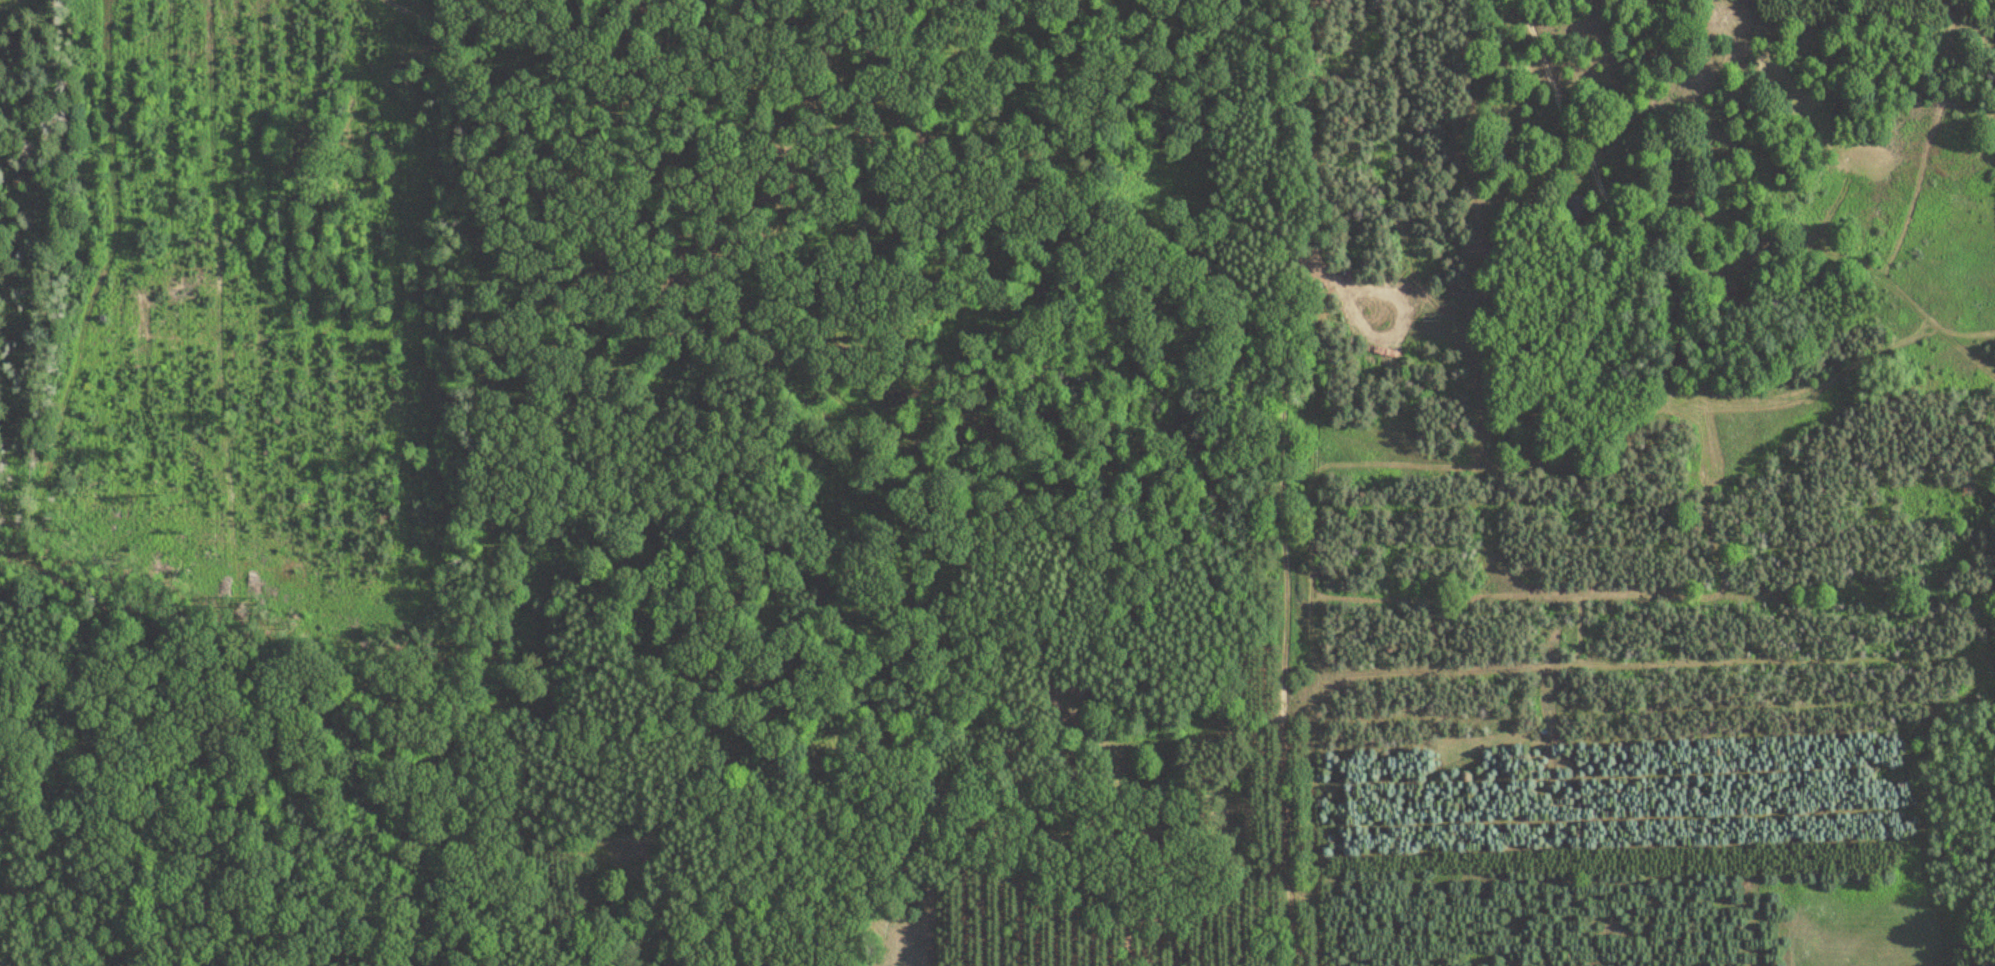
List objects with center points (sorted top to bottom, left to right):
building: (1574, 207)
road: (1285, 483)

